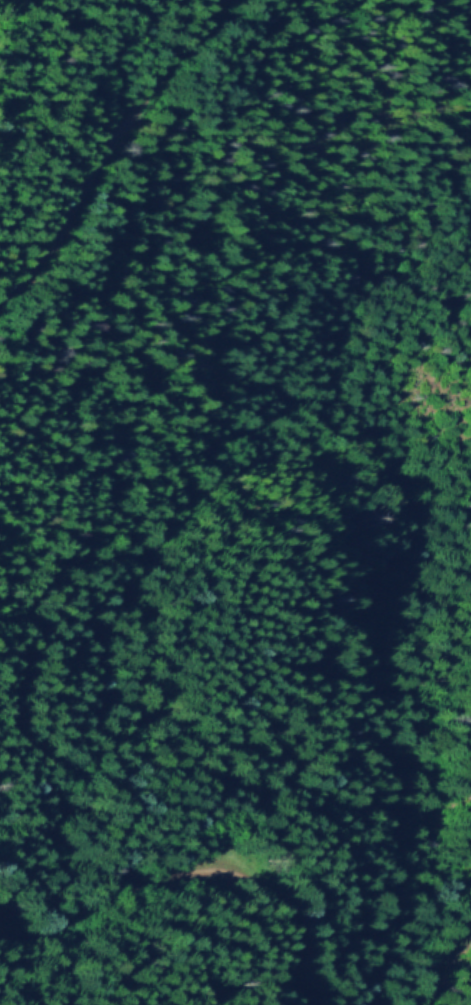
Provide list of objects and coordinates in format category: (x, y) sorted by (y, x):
road: (112, 153)
road: (189, 872)
road: (450, 964)

